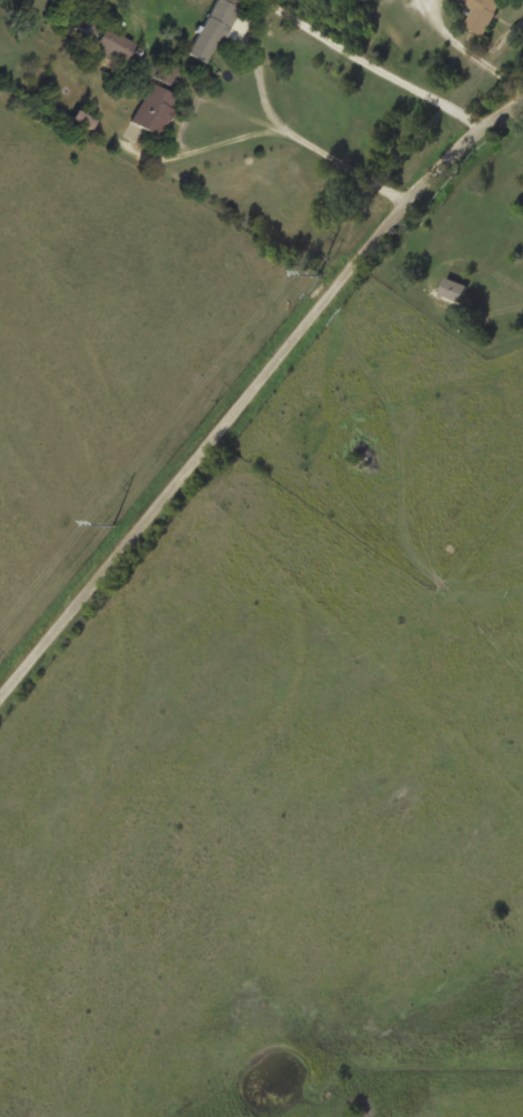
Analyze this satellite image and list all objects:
building: (482, 13)
building: (213, 29)
building: (107, 39)
building: (167, 72)
building: (154, 108)
road: (304, 109)
building: (82, 118)
road: (157, 187)
building: (453, 289)
road: (253, 395)

